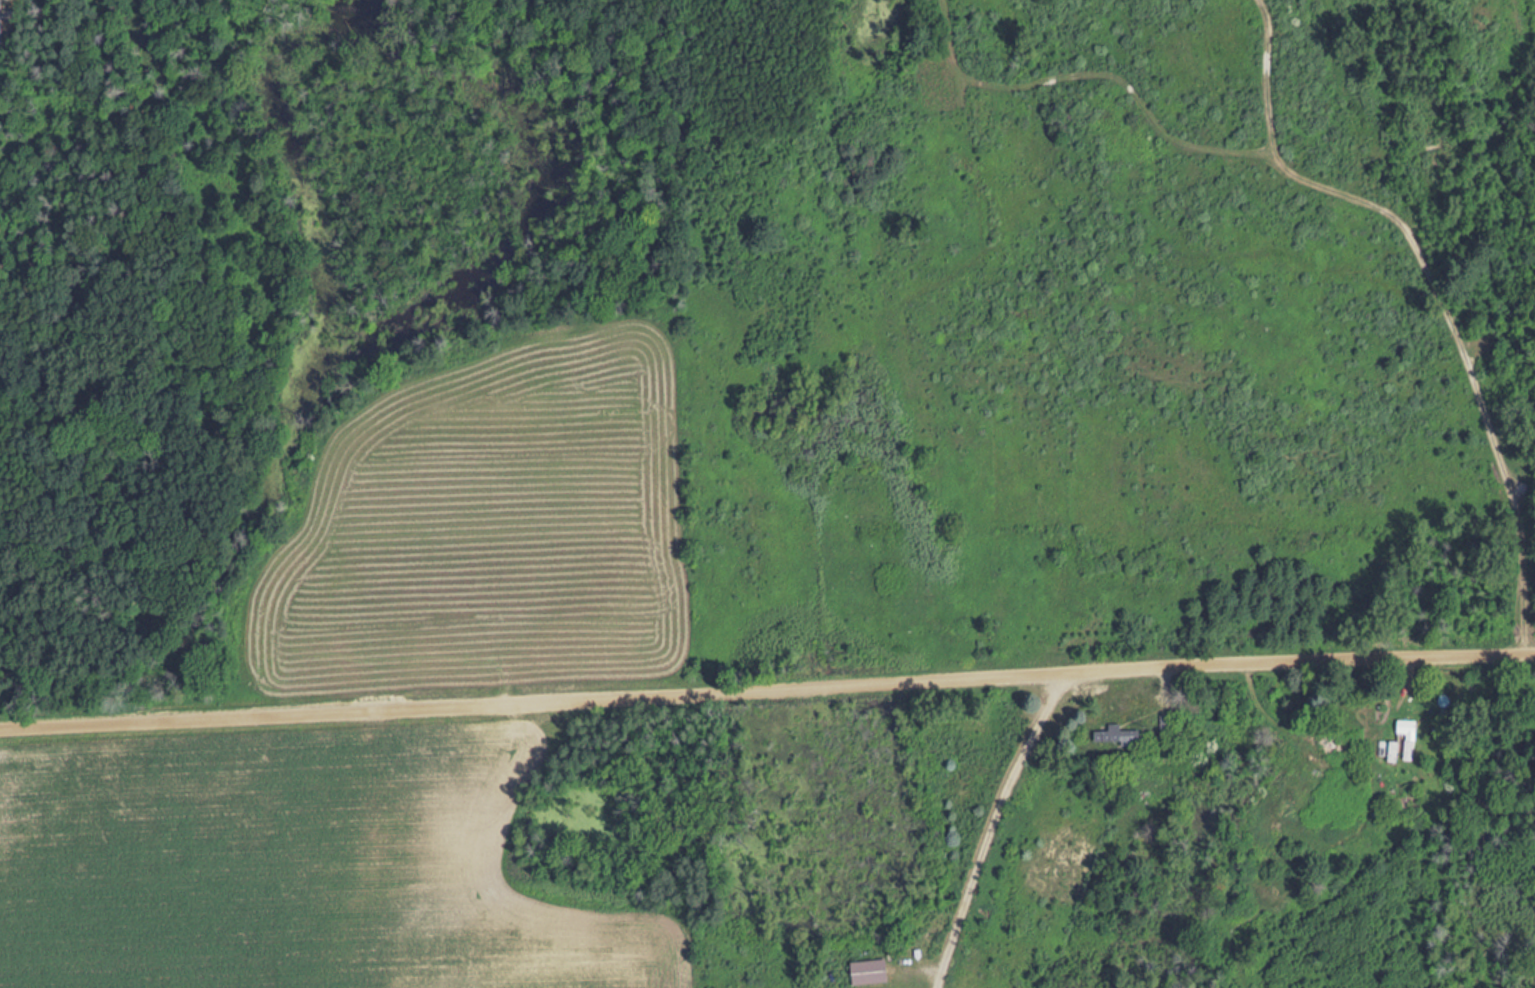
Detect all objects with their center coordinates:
road: (767, 682)
building: (1172, 723)
building: (1409, 726)
building: (1123, 735)
building: (1344, 746)
building: (1395, 760)
building: (875, 972)

